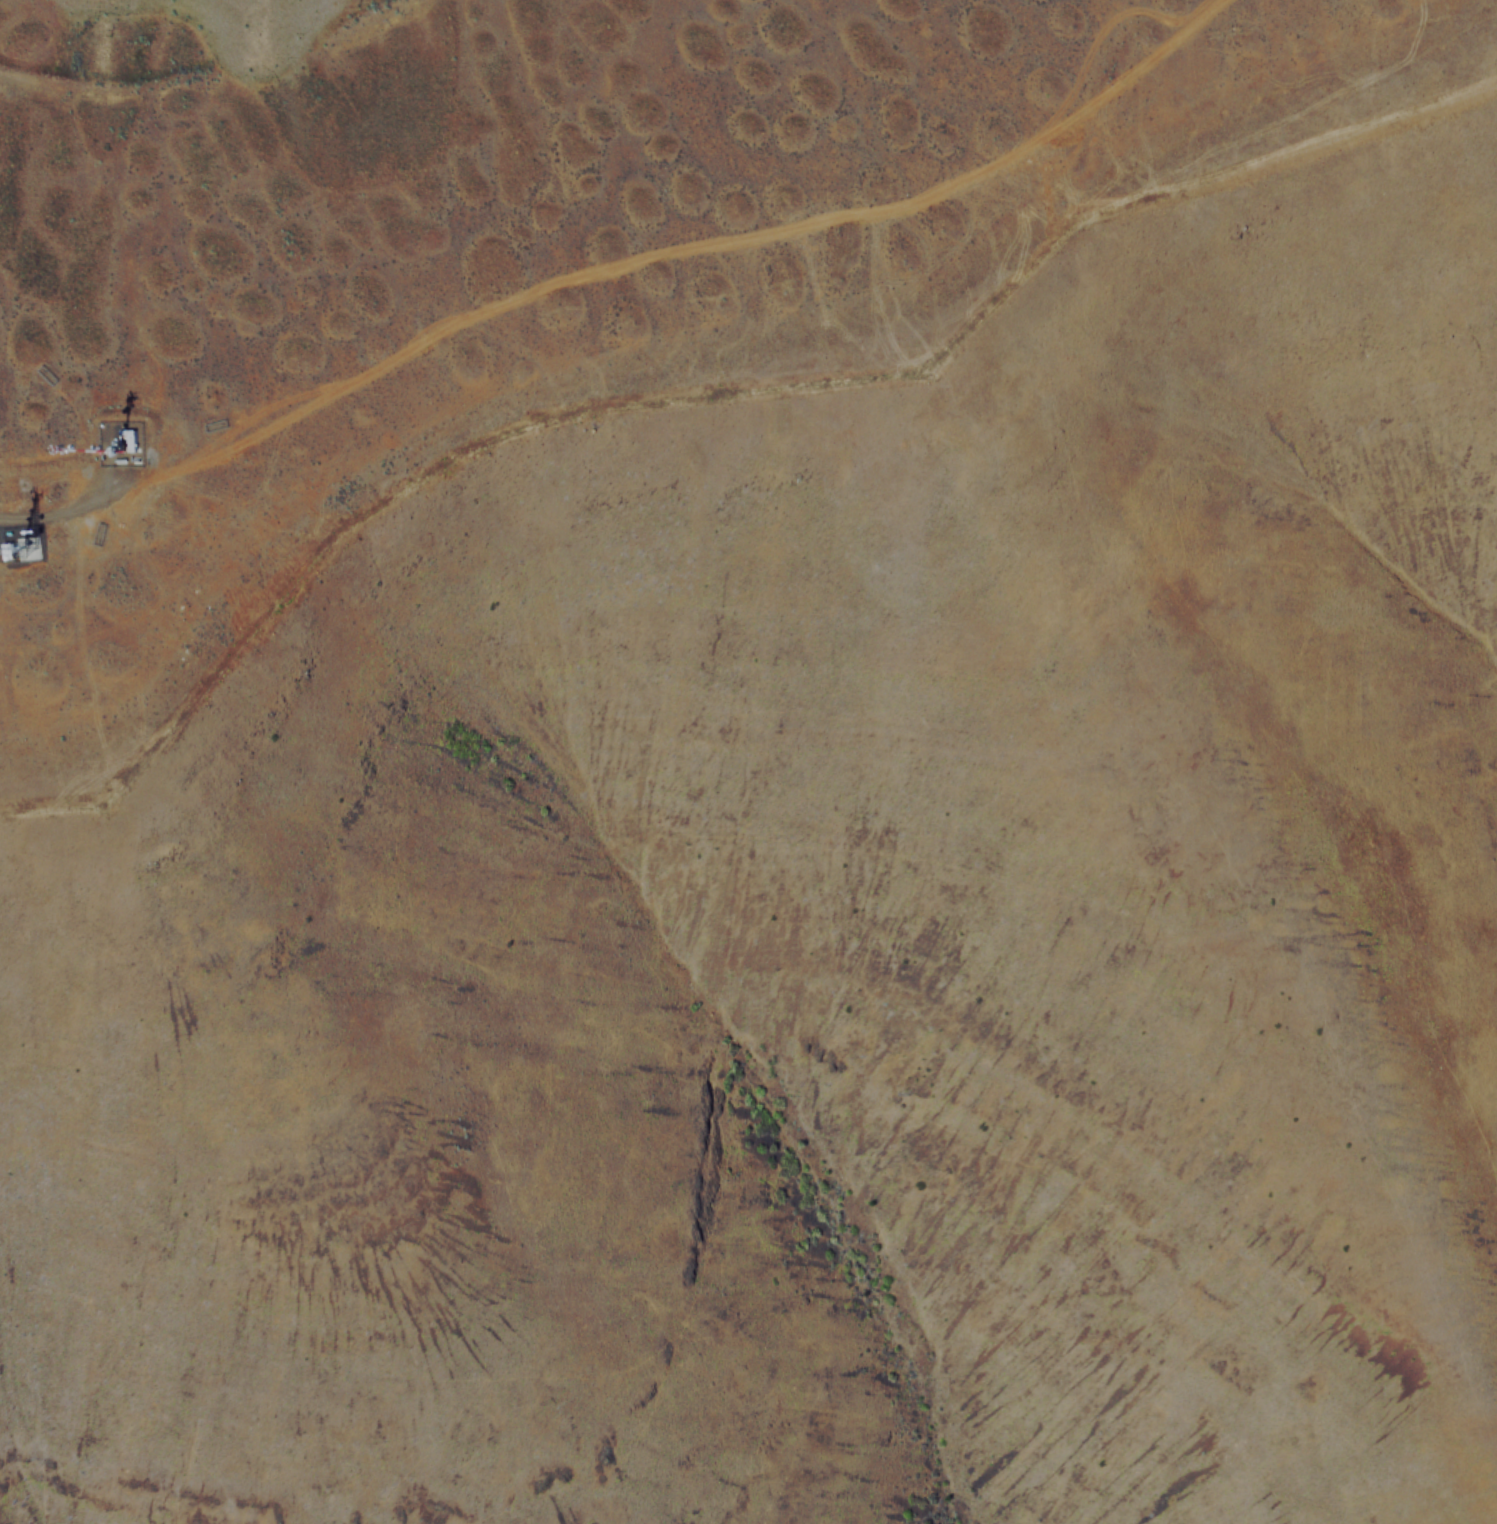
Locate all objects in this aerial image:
road: (59, 511)

